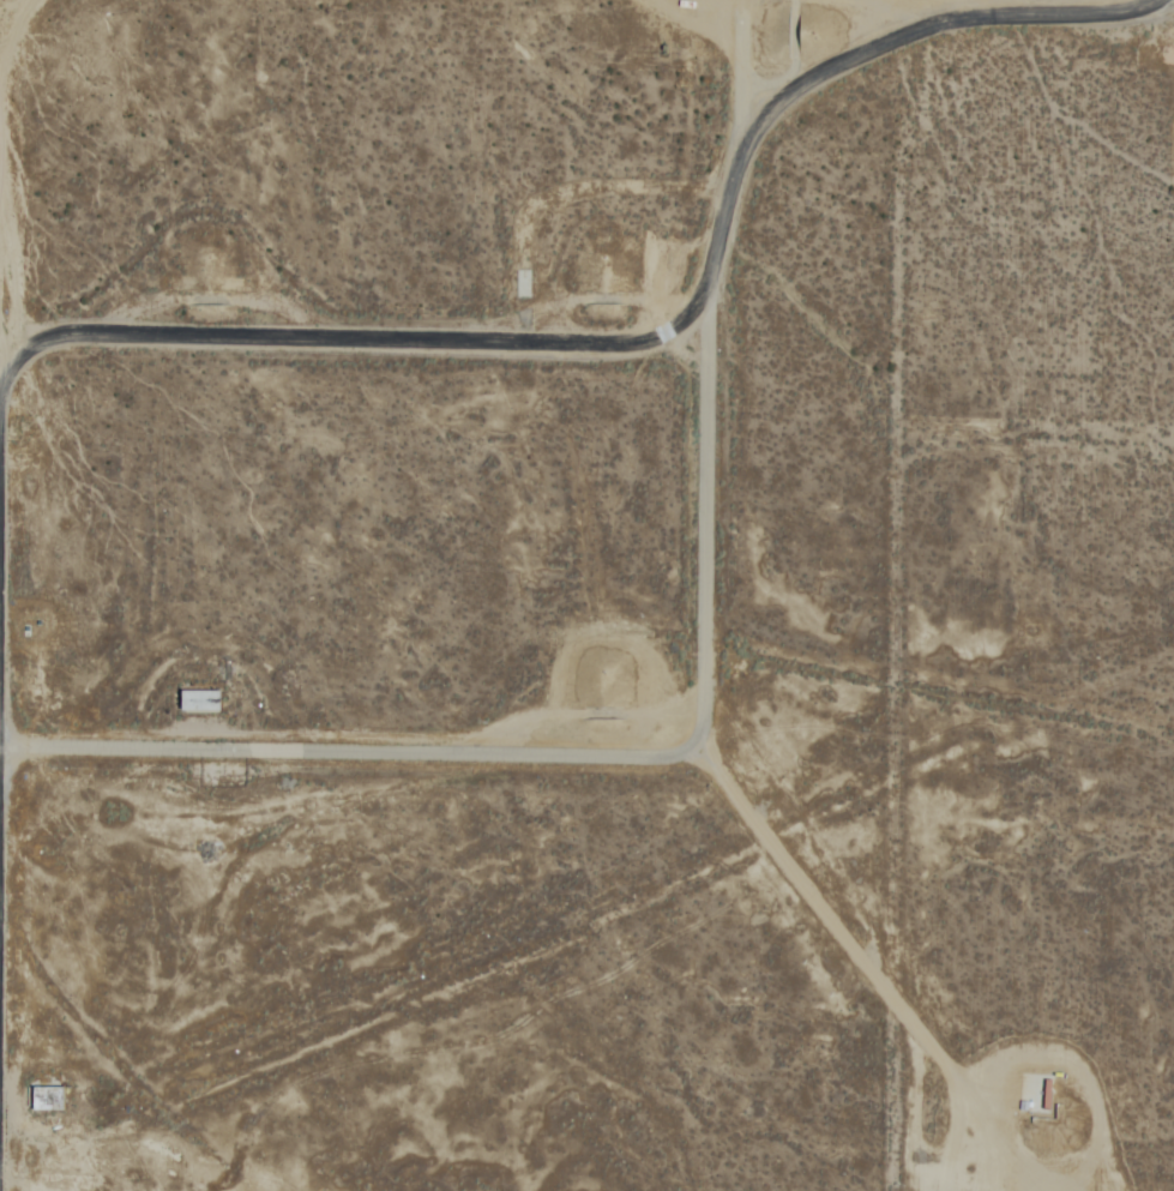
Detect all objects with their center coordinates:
road: (1007, 17)
building: (523, 284)
road: (499, 344)
airport: (586, 595)
building: (197, 700)
road: (583, 752)
road: (861, 962)
building: (44, 1097)

